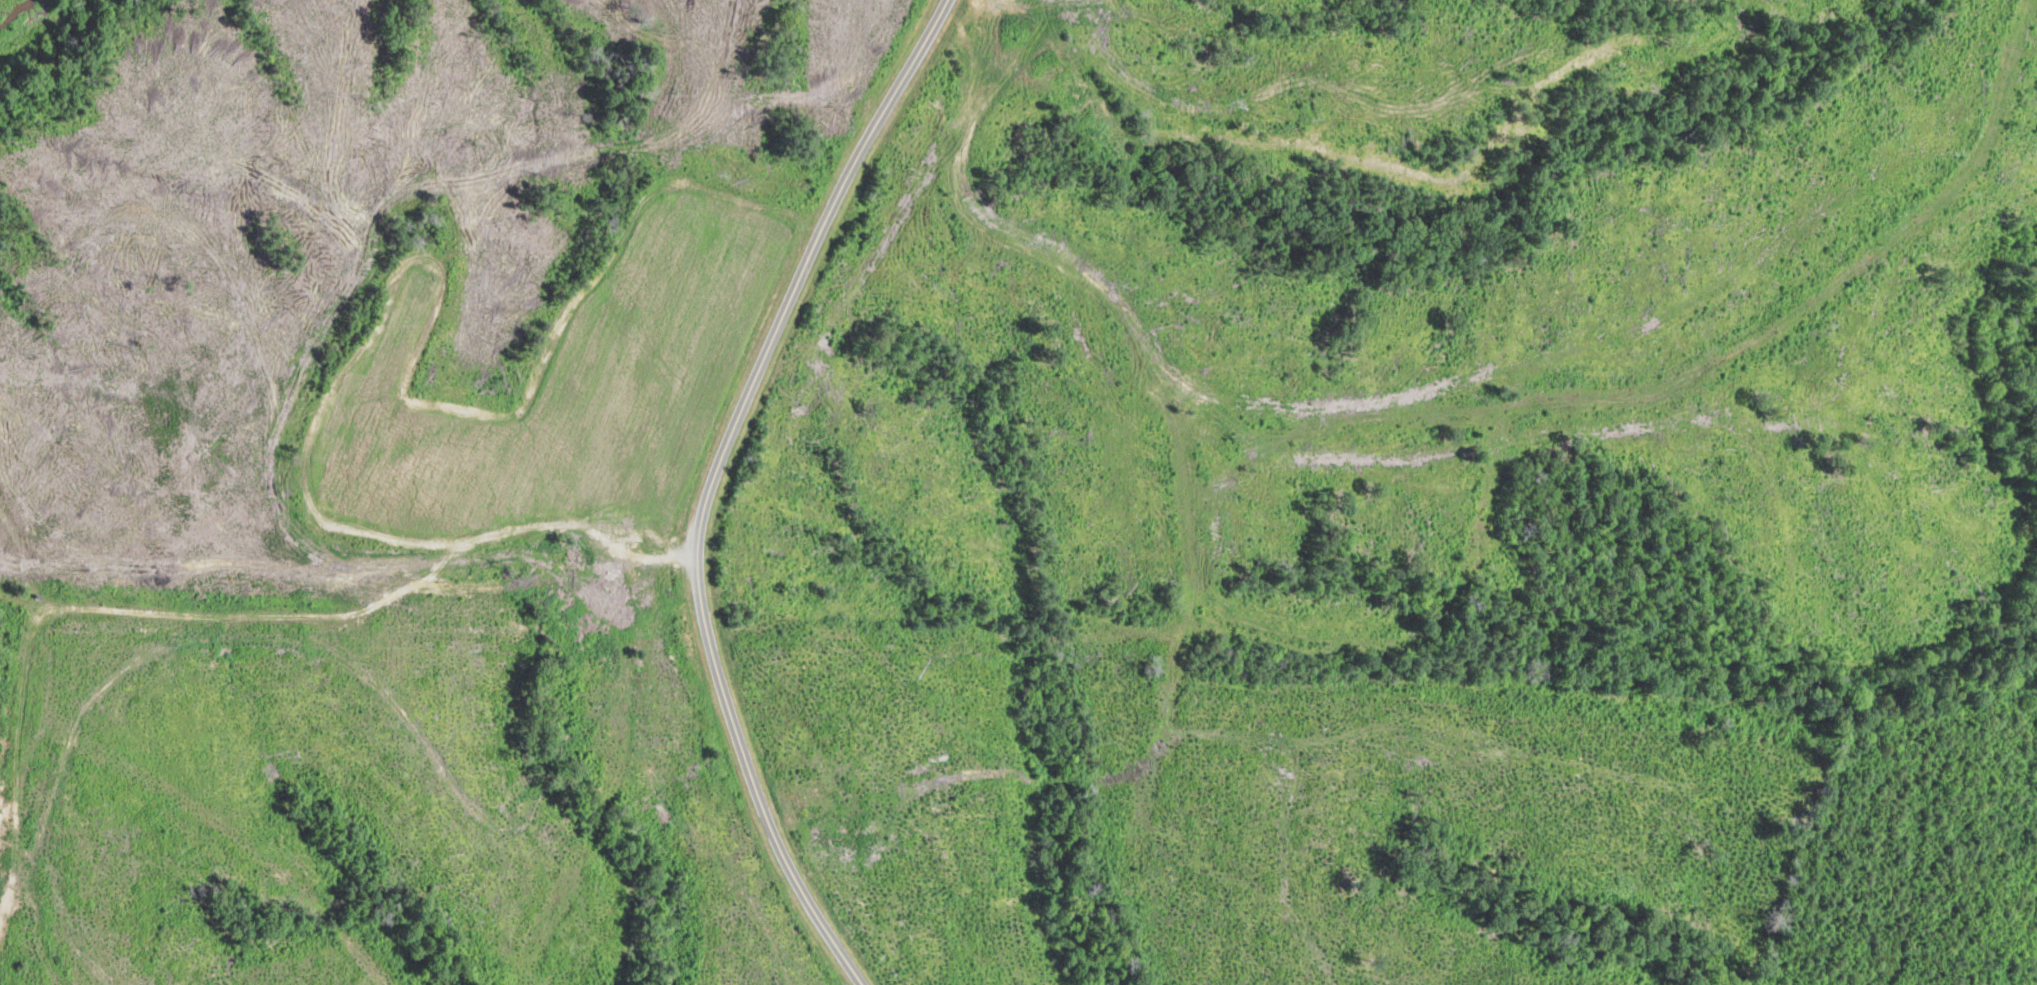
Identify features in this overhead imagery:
road: (711, 484)

